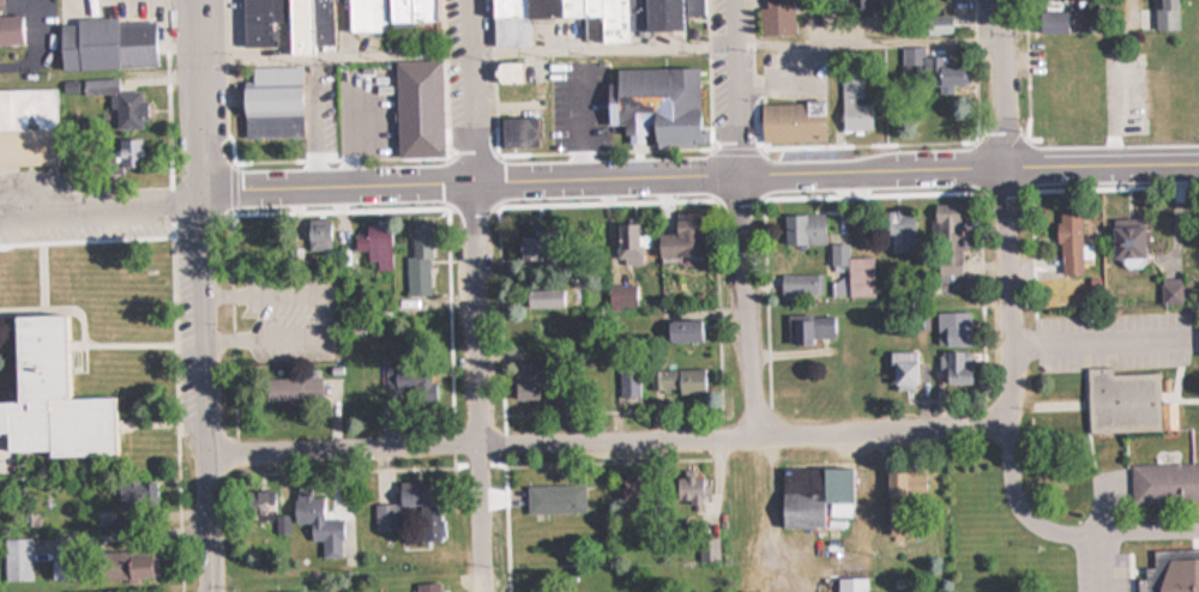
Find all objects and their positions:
building: (953, 0)
building: (862, 5)
building: (381, 13)
building: (1162, 14)
building: (776, 17)
building: (1049, 22)
building: (288, 24)
building: (639, 24)
building: (936, 24)
building: (11, 30)
building: (104, 44)
road: (332, 56)
building: (941, 74)
road: (193, 97)
building: (116, 102)
building: (270, 103)
building: (655, 103)
building: (854, 105)
building: (415, 109)
building: (789, 122)
building: (26, 127)
building: (123, 155)
road: (598, 168)
road: (1005, 211)
road: (740, 213)
building: (801, 229)
building: (898, 231)
building: (311, 236)
building: (625, 242)
building: (1122, 242)
building: (675, 243)
building: (947, 243)
building: (1067, 243)
building: (372, 249)
building: (525, 249)
building: (417, 260)
building: (849, 273)
building: (800, 285)
building: (1169, 291)
road: (476, 295)
building: (622, 296)
building: (541, 300)
building: (808, 328)
building: (952, 328)
building: (681, 331)
building: (1197, 337)
building: (953, 368)
building: (899, 370)
building: (522, 381)
building: (626, 381)
building: (676, 381)
road: (197, 393)
building: (47, 394)
building: (290, 394)
building: (1123, 404)
road: (592, 428)
building: (1163, 483)
building: (687, 491)
building: (553, 499)
building: (893, 503)
building: (255, 508)
building: (796, 512)
building: (405, 513)
building: (317, 524)
building: (16, 560)
building: (122, 564)
building: (1173, 570)
building: (849, 585)
building: (426, 587)
building: (287, 591)

